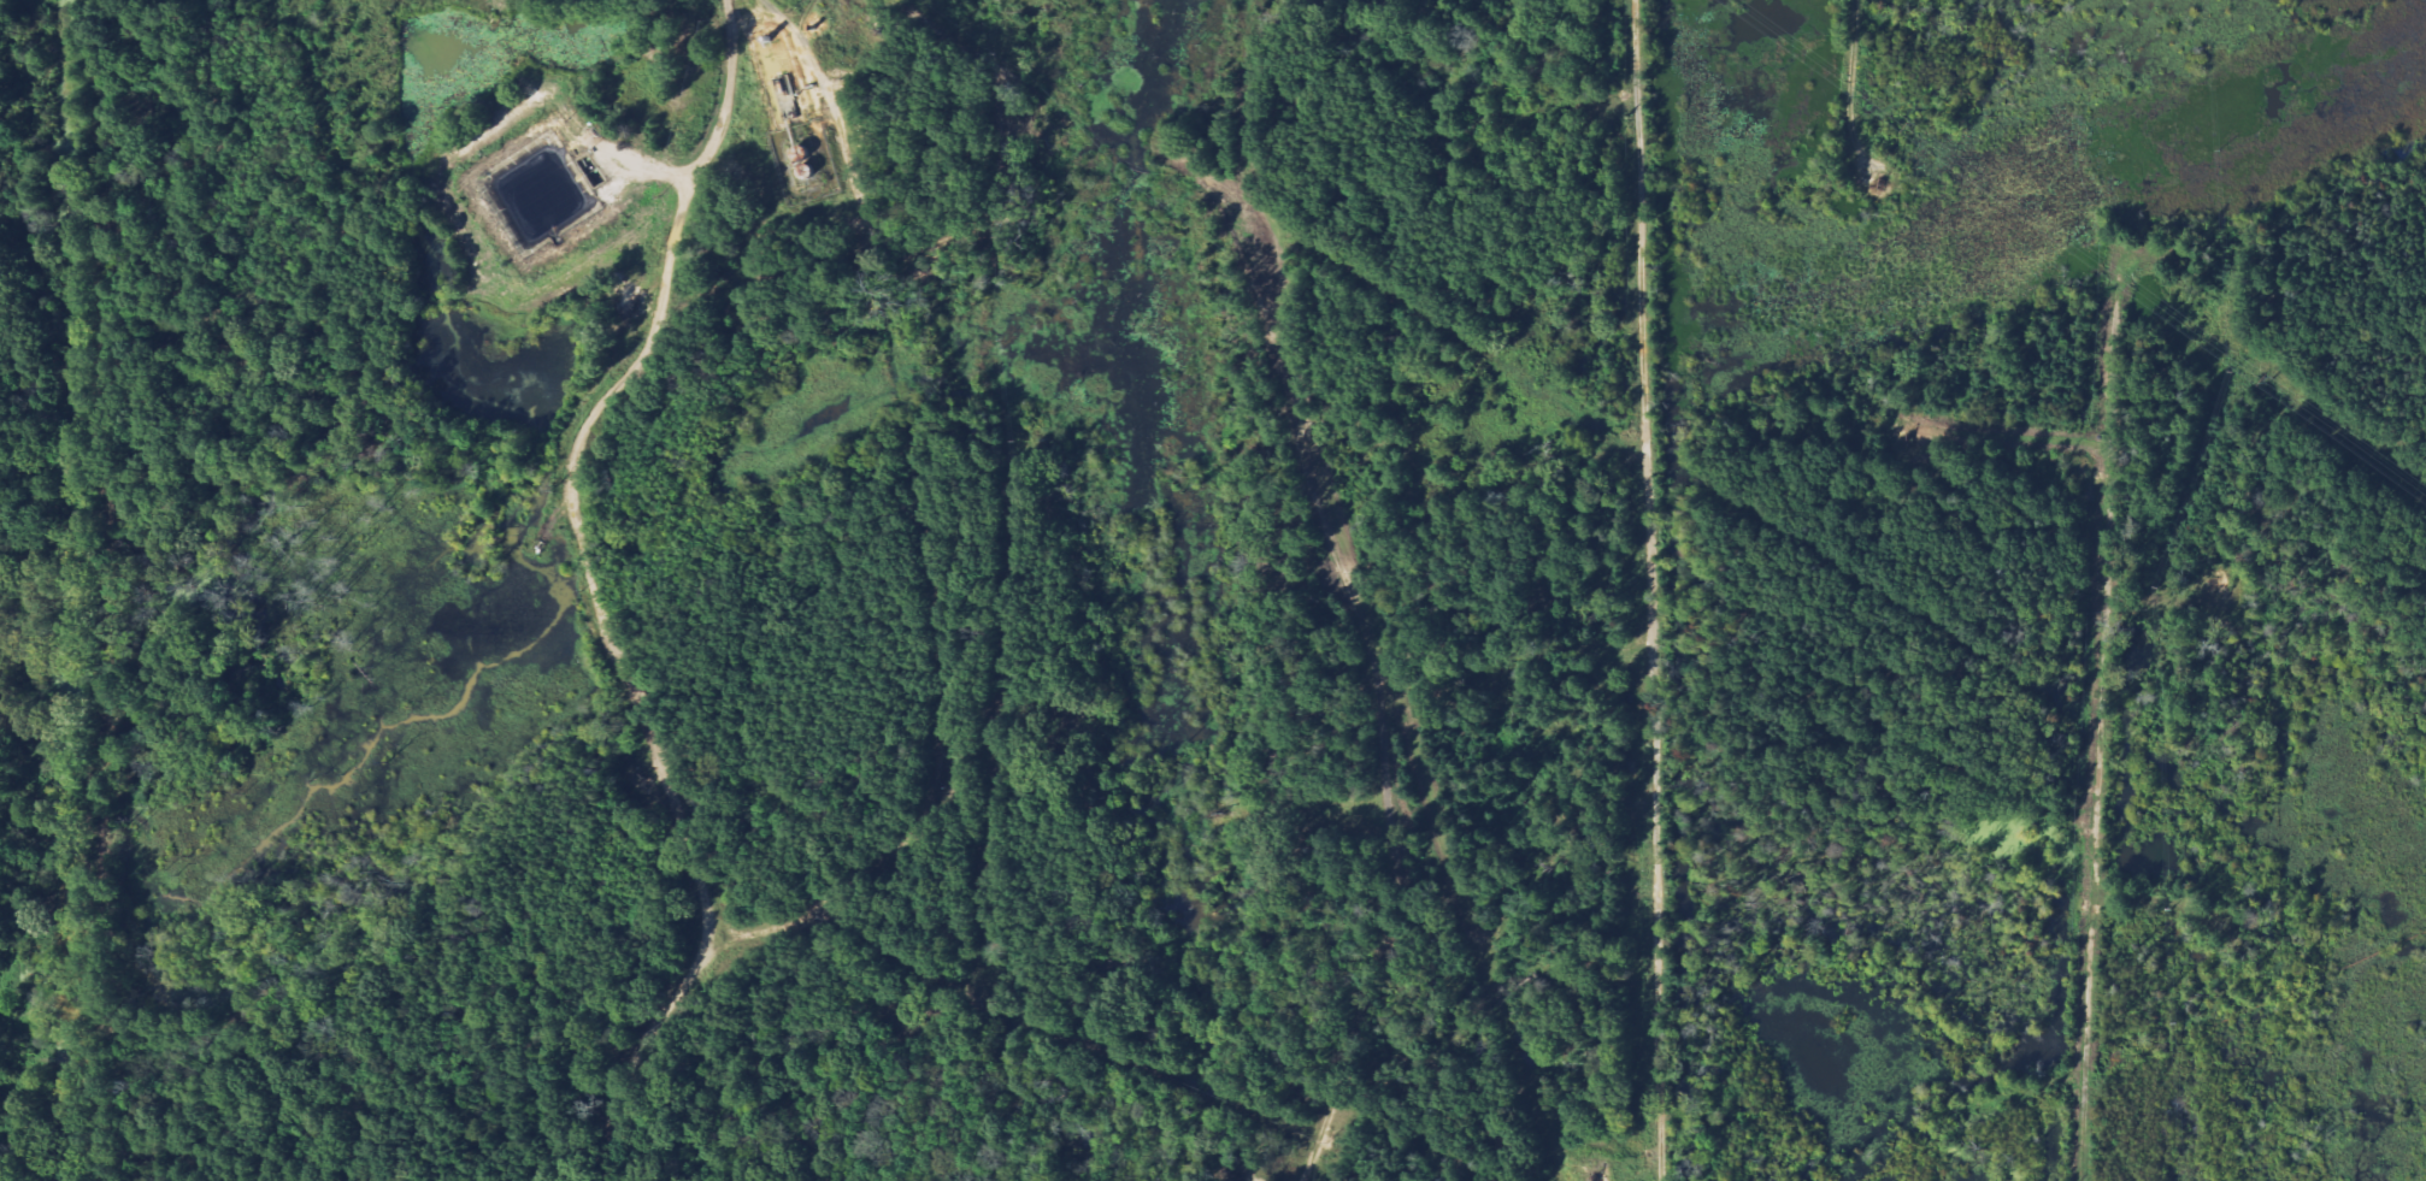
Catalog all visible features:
power tower: (1907, 125)
power tower: (2265, 382)

